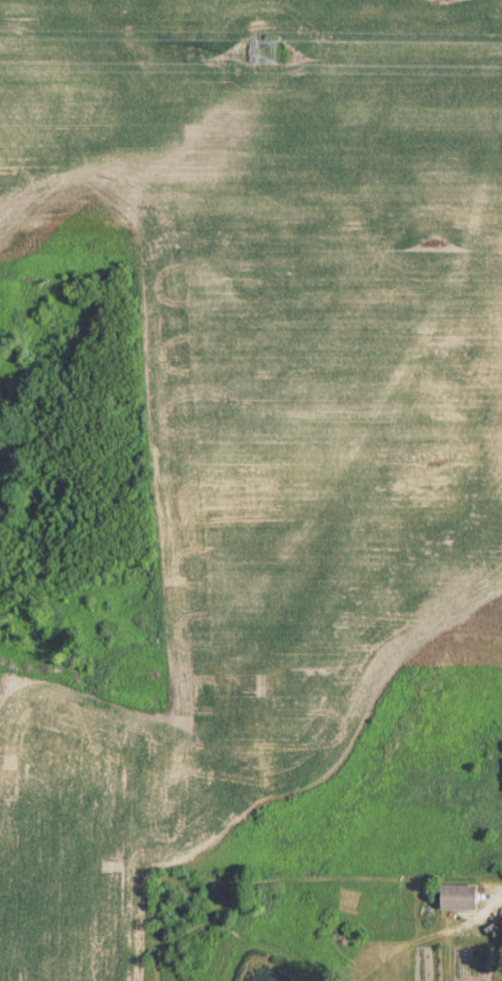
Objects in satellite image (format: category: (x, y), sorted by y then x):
power tower: (264, 49)
building: (452, 897)

